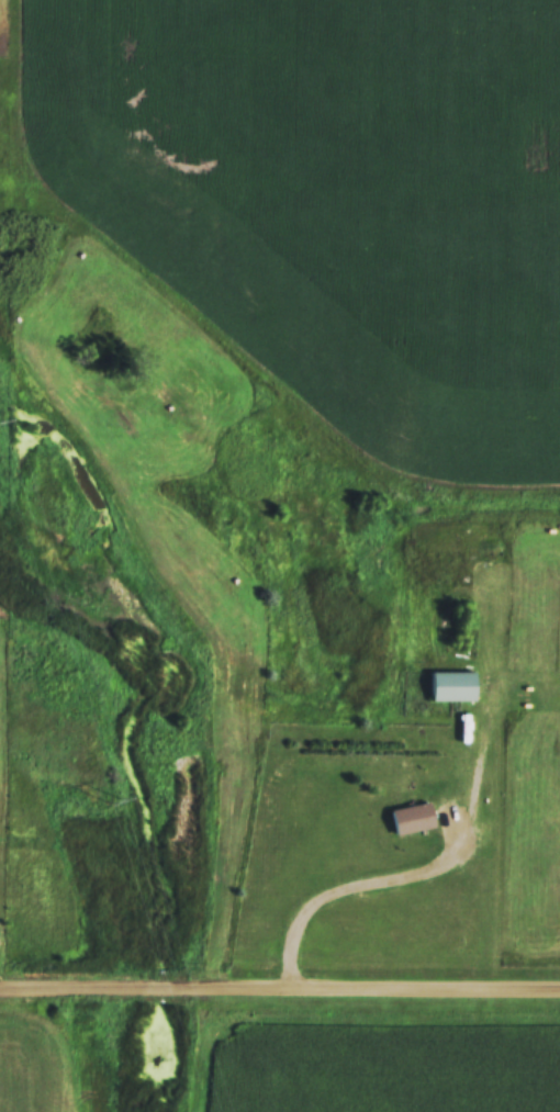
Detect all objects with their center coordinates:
building: (449, 686)
power tower: (112, 799)
building: (408, 819)
road: (322, 888)
road: (5, 984)
road: (280, 992)

